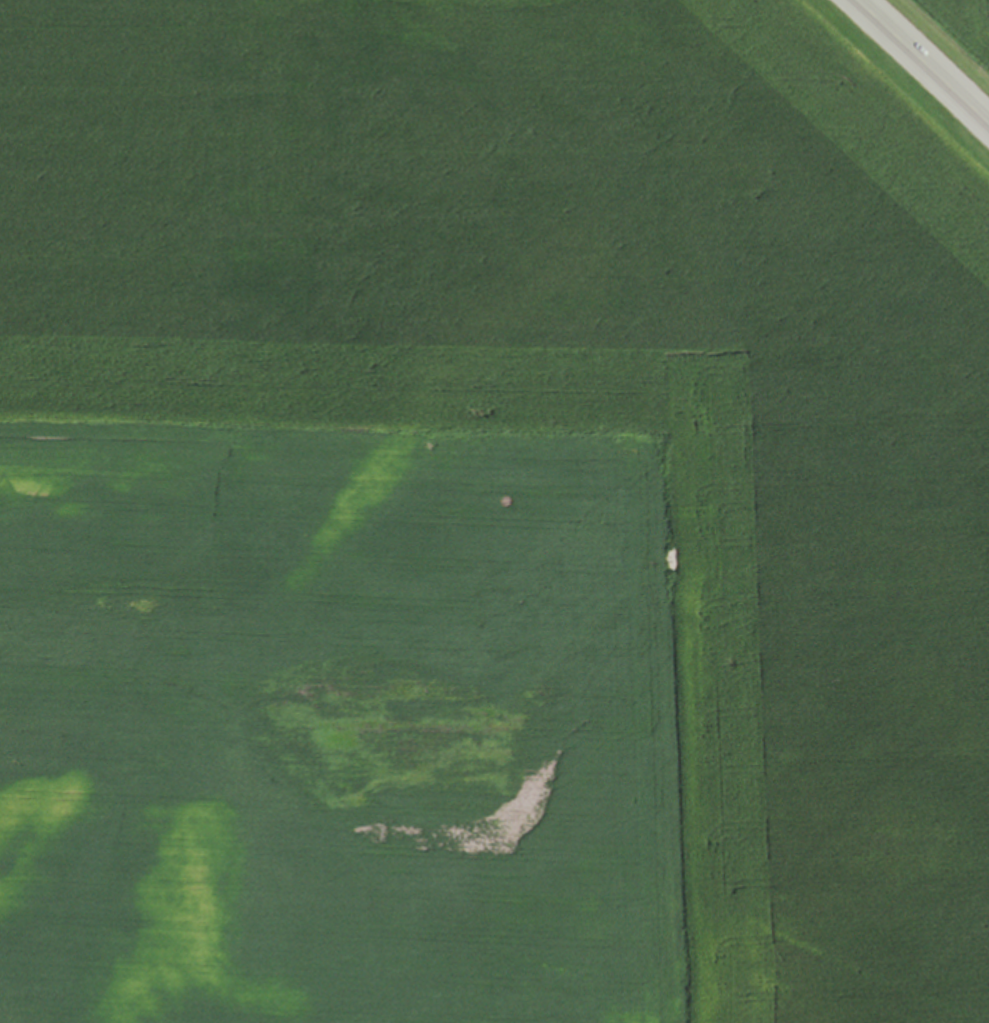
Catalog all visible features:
road: (912, 65)

